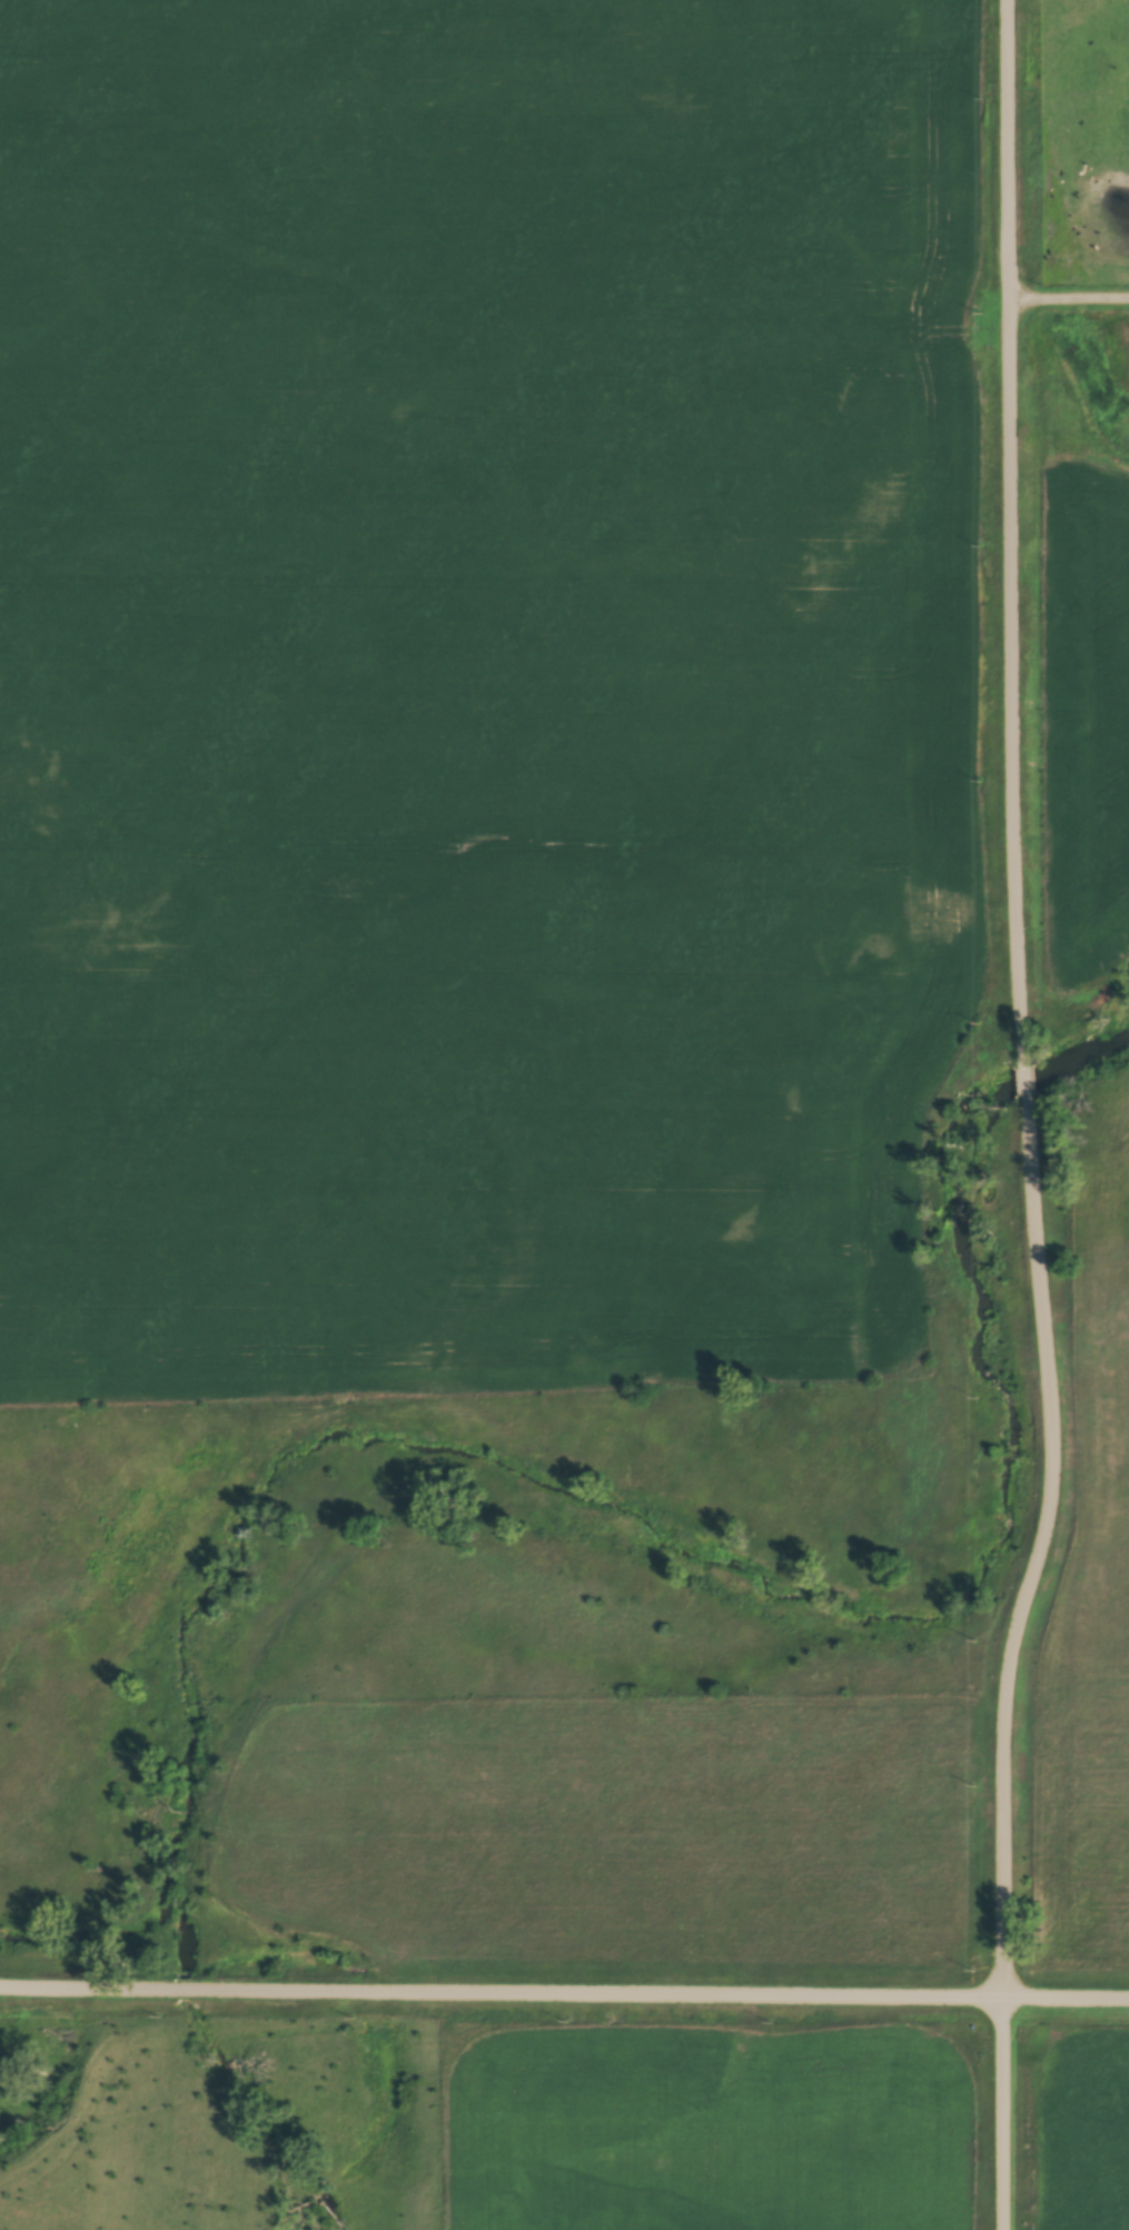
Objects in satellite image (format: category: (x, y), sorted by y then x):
road: (1069, 296)
road: (1024, 1118)
road: (564, 1988)

